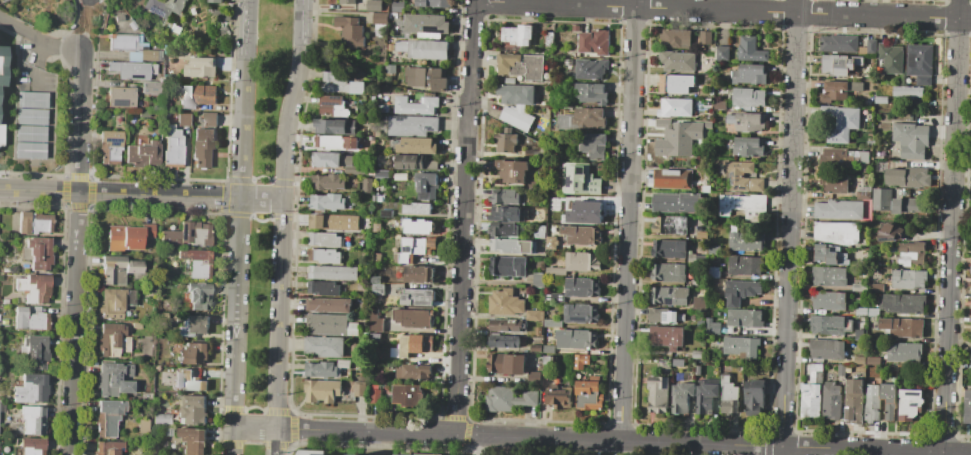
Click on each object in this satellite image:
building: (4, 0)
building: (215, 1)
building: (347, 1)
building: (434, 3)
building: (373, 5)
building: (163, 6)
building: (397, 6)
road: (723, 10)
building: (220, 15)
building: (379, 18)
road: (298, 22)
road: (72, 24)
road: (85, 25)
building: (427, 25)
building: (575, 27)
road: (99, 29)
road: (245, 29)
building: (350, 31)
building: (517, 35)
building: (675, 37)
building: (705, 37)
road: (36, 38)
building: (390, 40)
building: (549, 40)
building: (594, 42)
building: (839, 43)
building: (871, 46)
building: (134, 47)
building: (424, 48)
building: (750, 49)
road: (473, 50)
building: (722, 53)
building: (891, 58)
building: (677, 60)
building: (920, 63)
building: (840, 65)
building: (521, 66)
building: (2, 67)
building: (200, 67)
building: (389, 69)
building: (590, 69)
building: (133, 70)
building: (749, 74)
building: (427, 78)
building: (705, 78)
building: (509, 80)
building: (342, 83)
building: (675, 84)
building: (150, 87)
building: (838, 90)
building: (908, 91)
building: (591, 93)
building: (198, 96)
building: (385, 96)
building: (122, 97)
road: (633, 97)
building: (748, 97)
building: (32, 99)
building: (880, 100)
building: (719, 104)
building: (415, 105)
building: (517, 105)
building: (332, 106)
building: (675, 107)
building: (383, 109)
building: (144, 114)
road: (793, 115)
building: (843, 115)
road: (956, 115)
building: (31, 116)
building: (183, 119)
building: (210, 119)
building: (583, 119)
building: (747, 121)
building: (663, 122)
building: (718, 122)
building: (685, 124)
building: (708, 124)
building: (412, 125)
building: (334, 126)
building: (31, 133)
building: (1, 134)
building: (911, 139)
building: (506, 141)
building: (676, 141)
building: (330, 142)
building: (868, 142)
building: (415, 144)
building: (593, 145)
building: (110, 146)
building: (203, 146)
building: (747, 146)
building: (173, 147)
building: (30, 150)
building: (143, 154)
building: (843, 156)
building: (331, 160)
building: (413, 162)
building: (512, 170)
building: (358, 171)
building: (382, 176)
building: (736, 176)
building: (400, 177)
building: (907, 177)
building: (675, 178)
building: (578, 179)
building: (329, 182)
building: (834, 182)
building: (367, 185)
building: (427, 185)
building: (756, 185)
building: (864, 193)
road: (140, 194)
building: (504, 197)
building: (881, 199)
building: (331, 202)
building: (679, 202)
building: (912, 205)
building: (743, 206)
building: (896, 206)
building: (417, 208)
building: (838, 210)
building: (386, 212)
building: (586, 212)
building: (508, 214)
building: (34, 222)
building: (335, 222)
building: (671, 225)
building: (418, 226)
building: (377, 227)
building: (503, 229)
building: (149, 231)
building: (891, 231)
building: (540, 232)
building: (836, 233)
building: (188, 234)
building: (581, 235)
building: (701, 235)
building: (125, 238)
building: (330, 239)
building: (746, 241)
building: (553, 242)
building: (513, 246)
road: (280, 248)
building: (669, 248)
building: (414, 249)
building: (714, 249)
road: (76, 252)
building: (37, 253)
building: (912, 253)
building: (829, 254)
building: (357, 255)
road: (237, 256)
building: (325, 256)
building: (378, 257)
building: (695, 259)
building: (582, 261)
building: (970, 261)
building: (192, 264)
building: (745, 265)
building: (508, 266)
road: (461, 267)
building: (970, 268)
building: (118, 269)
building: (556, 271)
building: (332, 272)
building: (668, 272)
building: (713, 272)
building: (419, 274)
building: (829, 276)
building: (908, 279)
building: (538, 280)
building: (323, 287)
building: (364, 287)
building: (581, 287)
building: (859, 287)
building: (875, 287)
building: (35, 288)
building: (384, 290)
building: (741, 291)
building: (669, 295)
building: (195, 296)
building: (417, 297)
building: (554, 297)
building: (828, 300)
building: (5, 301)
building: (115, 302)
building: (506, 302)
building: (700, 303)
building: (903, 303)
building: (329, 305)
building: (860, 311)
building: (873, 312)
building: (580, 313)
building: (134, 315)
building: (162, 315)
building: (534, 315)
building: (970, 316)
building: (413, 317)
road: (624, 317)
building: (664, 317)
building: (31, 318)
building: (744, 318)
building: (375, 321)
building: (553, 323)
building: (830, 324)
building: (127, 325)
building: (137, 325)
building: (331, 325)
building: (507, 325)
building: (193, 327)
building: (711, 327)
building: (902, 327)
building: (859, 331)
building: (538, 332)
building: (970, 334)
building: (666, 337)
road: (784, 338)
building: (580, 339)
building: (113, 340)
building: (504, 341)
road: (948, 342)
building: (133, 345)
building: (415, 345)
building: (324, 346)
building: (741, 346)
building: (535, 348)
building: (548, 348)
building: (558, 349)
building: (827, 349)
building: (35, 351)
building: (394, 351)
building: (904, 351)
building: (6, 352)
building: (193, 353)
building: (697, 353)
building: (970, 357)
building: (549, 360)
building: (859, 360)
building: (873, 360)
building: (580, 361)
building: (343, 363)
building: (506, 363)
building: (664, 363)
building: (129, 368)
building: (323, 369)
building: (842, 369)
building: (697, 370)
building: (816, 371)
building: (413, 372)
building: (534, 377)
building: (112, 379)
building: (189, 381)
building: (876, 381)
building: (901, 382)
building: (32, 388)
building: (359, 388)
building: (323, 391)
building: (589, 394)
building: (657, 394)
building: (408, 395)
building: (706, 395)
building: (729, 396)
building: (754, 396)
building: (375, 397)
building: (559, 397)
building: (682, 397)
building: (509, 398)
building: (832, 400)
building: (889, 400)
building: (810, 401)
building: (853, 402)
building: (909, 404)
building: (967, 406)
building: (871, 407)
building: (194, 410)
building: (109, 416)
building: (163, 418)
building: (32, 420)
building: (144, 427)
road: (364, 430)
building: (170, 432)
building: (193, 440)
road: (638, 440)
road: (477, 444)
building: (31, 445)
building: (110, 447)
road: (875, 449)
road: (779, 450)
building: (310, 452)
park: (496, 454)

